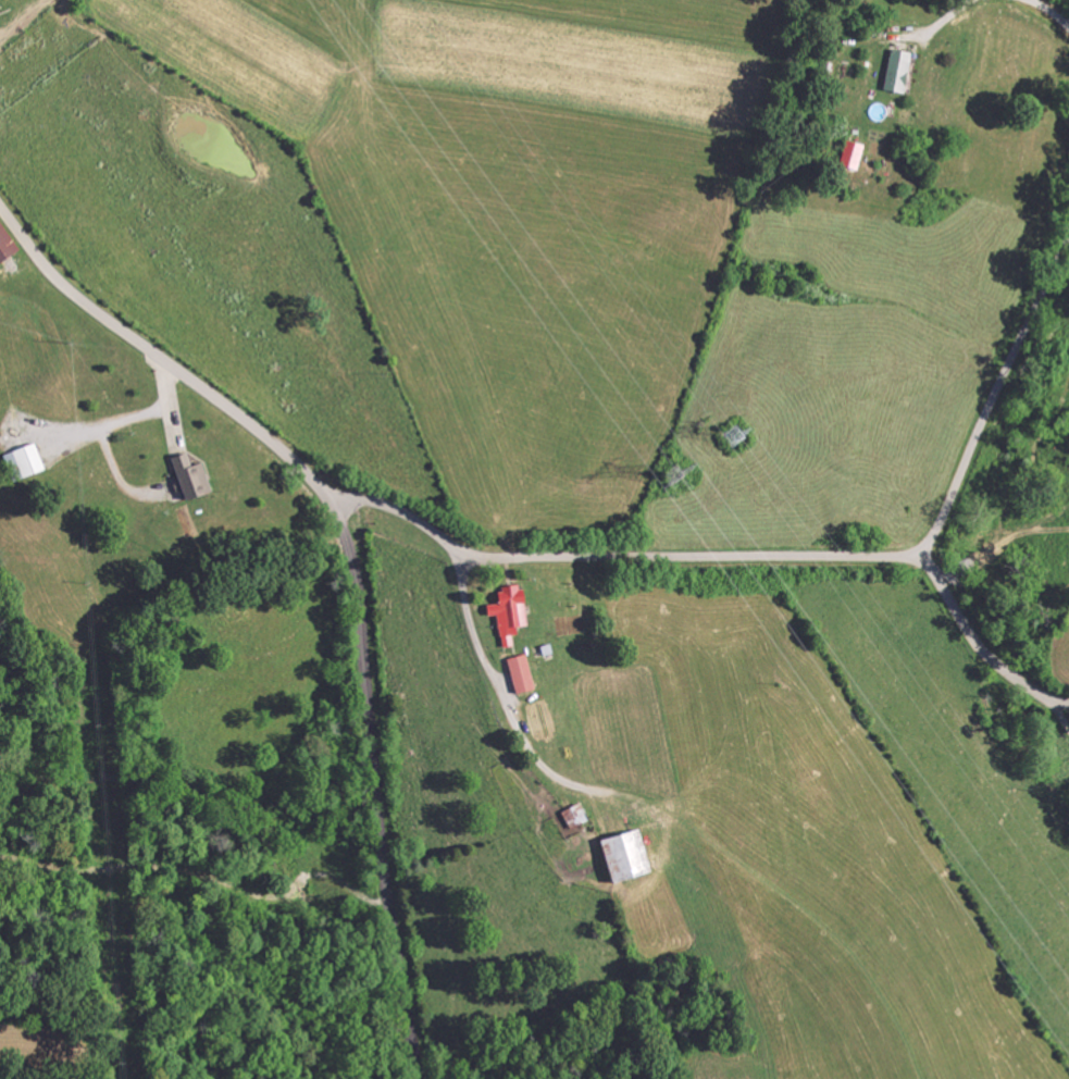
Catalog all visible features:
road: (1051, 11)
road: (945, 17)
building: (888, 69)
building: (843, 153)
building: (4, 245)
road: (995, 392)
power tower: (726, 435)
building: (16, 460)
building: (183, 476)
power tower: (661, 481)
road: (724, 556)
road: (925, 558)
road: (353, 566)
building: (501, 611)
building: (512, 672)
road: (446, 679)
road: (1058, 710)
building: (565, 814)
building: (619, 853)

